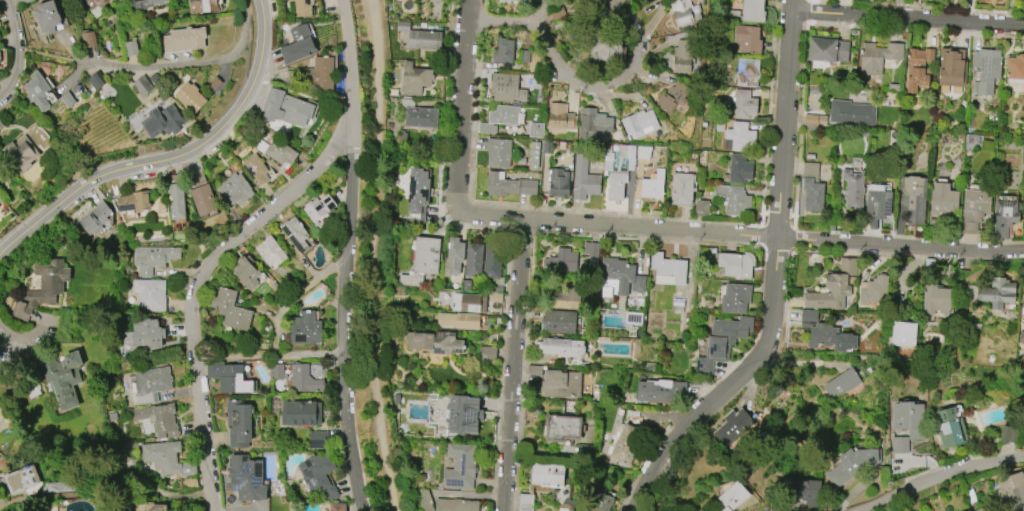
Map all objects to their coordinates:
building: (23, 1)
road: (247, 1)
building: (507, 1)
building: (146, 4)
building: (97, 6)
building: (204, 6)
road: (916, 6)
building: (303, 8)
road: (808, 11)
building: (683, 12)
building: (750, 12)
building: (558, 13)
building: (48, 17)
road: (908, 19)
road: (501, 21)
building: (421, 37)
building: (185, 39)
building: (748, 39)
building: (89, 40)
road: (248, 44)
building: (297, 45)
building: (130, 48)
road: (15, 49)
building: (607, 50)
building: (826, 50)
building: (504, 52)
building: (524, 56)
building: (681, 56)
building: (879, 57)
road: (348, 65)
road: (182, 66)
building: (1015, 67)
building: (918, 68)
building: (950, 68)
building: (747, 70)
building: (986, 70)
building: (320, 74)
building: (156, 79)
building: (415, 79)
building: (95, 82)
building: (214, 84)
building: (143, 86)
road: (599, 87)
building: (893, 87)
building: (507, 88)
building: (41, 90)
building: (813, 90)
building: (192, 97)
building: (673, 97)
building: (68, 99)
road: (770, 103)
building: (744, 104)
road: (461, 106)
building: (287, 107)
building: (851, 113)
building: (420, 115)
building: (560, 117)
building: (499, 118)
road: (800, 119)
building: (815, 119)
building: (165, 121)
building: (593, 123)
building: (640, 123)
building: (1, 125)
building: (718, 126)
building: (535, 130)
building: (739, 138)
building: (546, 147)
building: (278, 151)
building: (498, 152)
building: (643, 152)
building: (21, 153)
building: (534, 155)
building: (810, 156)
road: (121, 157)
road: (170, 157)
building: (520, 160)
building: (257, 169)
building: (617, 169)
building: (740, 169)
building: (584, 179)
building: (558, 182)
building: (508, 184)
building: (653, 186)
building: (813, 188)
building: (234, 189)
building: (682, 189)
building: (417, 190)
building: (854, 190)
building: (203, 199)
building: (735, 199)
building: (914, 199)
building: (0, 200)
building: (944, 200)
building: (135, 201)
building: (177, 201)
building: (877, 202)
building: (319, 207)
road: (524, 207)
building: (702, 208)
building: (975, 209)
road: (763, 213)
road: (778, 213)
road: (509, 217)
building: (96, 218)
building: (1005, 218)
road: (535, 220)
road: (794, 220)
building: (933, 222)
road: (505, 229)
road: (521, 230)
building: (296, 233)
road: (739, 235)
road: (760, 235)
road: (794, 237)
road: (776, 246)
building: (271, 251)
building: (425, 255)
building: (591, 255)
road: (379, 256)
building: (153, 258)
building: (454, 258)
road: (532, 258)
building: (474, 260)
building: (491, 260)
building: (561, 260)
building: (737, 264)
building: (846, 265)
building: (669, 270)
building: (246, 272)
building: (622, 276)
building: (410, 280)
road: (775, 280)
road: (788, 282)
building: (466, 285)
building: (41, 288)
road: (193, 288)
building: (874, 290)
building: (496, 293)
building: (829, 293)
building: (998, 293)
building: (151, 294)
building: (736, 298)
building: (566, 299)
building: (936, 299)
building: (467, 302)
building: (677, 303)
building: (1023, 303)
building: (231, 309)
building: (809, 316)
road: (780, 319)
road: (343, 321)
building: (459, 321)
building: (559, 322)
building: (306, 329)
building: (147, 332)
road: (9, 333)
road: (785, 334)
building: (904, 334)
building: (1021, 337)
building: (831, 338)
building: (435, 342)
building: (722, 342)
road: (753, 342)
building: (564, 348)
building: (1020, 351)
road: (267, 352)
building: (488, 353)
road: (802, 363)
road: (513, 365)
building: (869, 369)
building: (535, 370)
building: (62, 377)
building: (230, 377)
building: (277, 377)
building: (305, 379)
building: (562, 383)
building: (842, 383)
building: (152, 384)
building: (32, 389)
building: (657, 390)
building: (301, 413)
building: (463, 414)
road: (680, 416)
road: (652, 418)
building: (161, 419)
road: (681, 422)
building: (239, 423)
building: (908, 424)
building: (733, 427)
building: (563, 428)
building: (950, 429)
building: (1009, 435)
building: (319, 439)
building: (628, 444)
building: (168, 459)
building: (855, 465)
building: (461, 467)
building: (319, 475)
building: (547, 476)
building: (246, 479)
building: (22, 480)
road: (942, 481)
building: (190, 483)
building: (806, 491)
building: (1012, 492)
building: (733, 497)
building: (423, 499)
building: (526, 502)
building: (604, 503)
building: (455, 505)
building: (150, 507)
building: (338, 507)
building: (283, 508)
building: (968, 510)
building: (981, 510)

